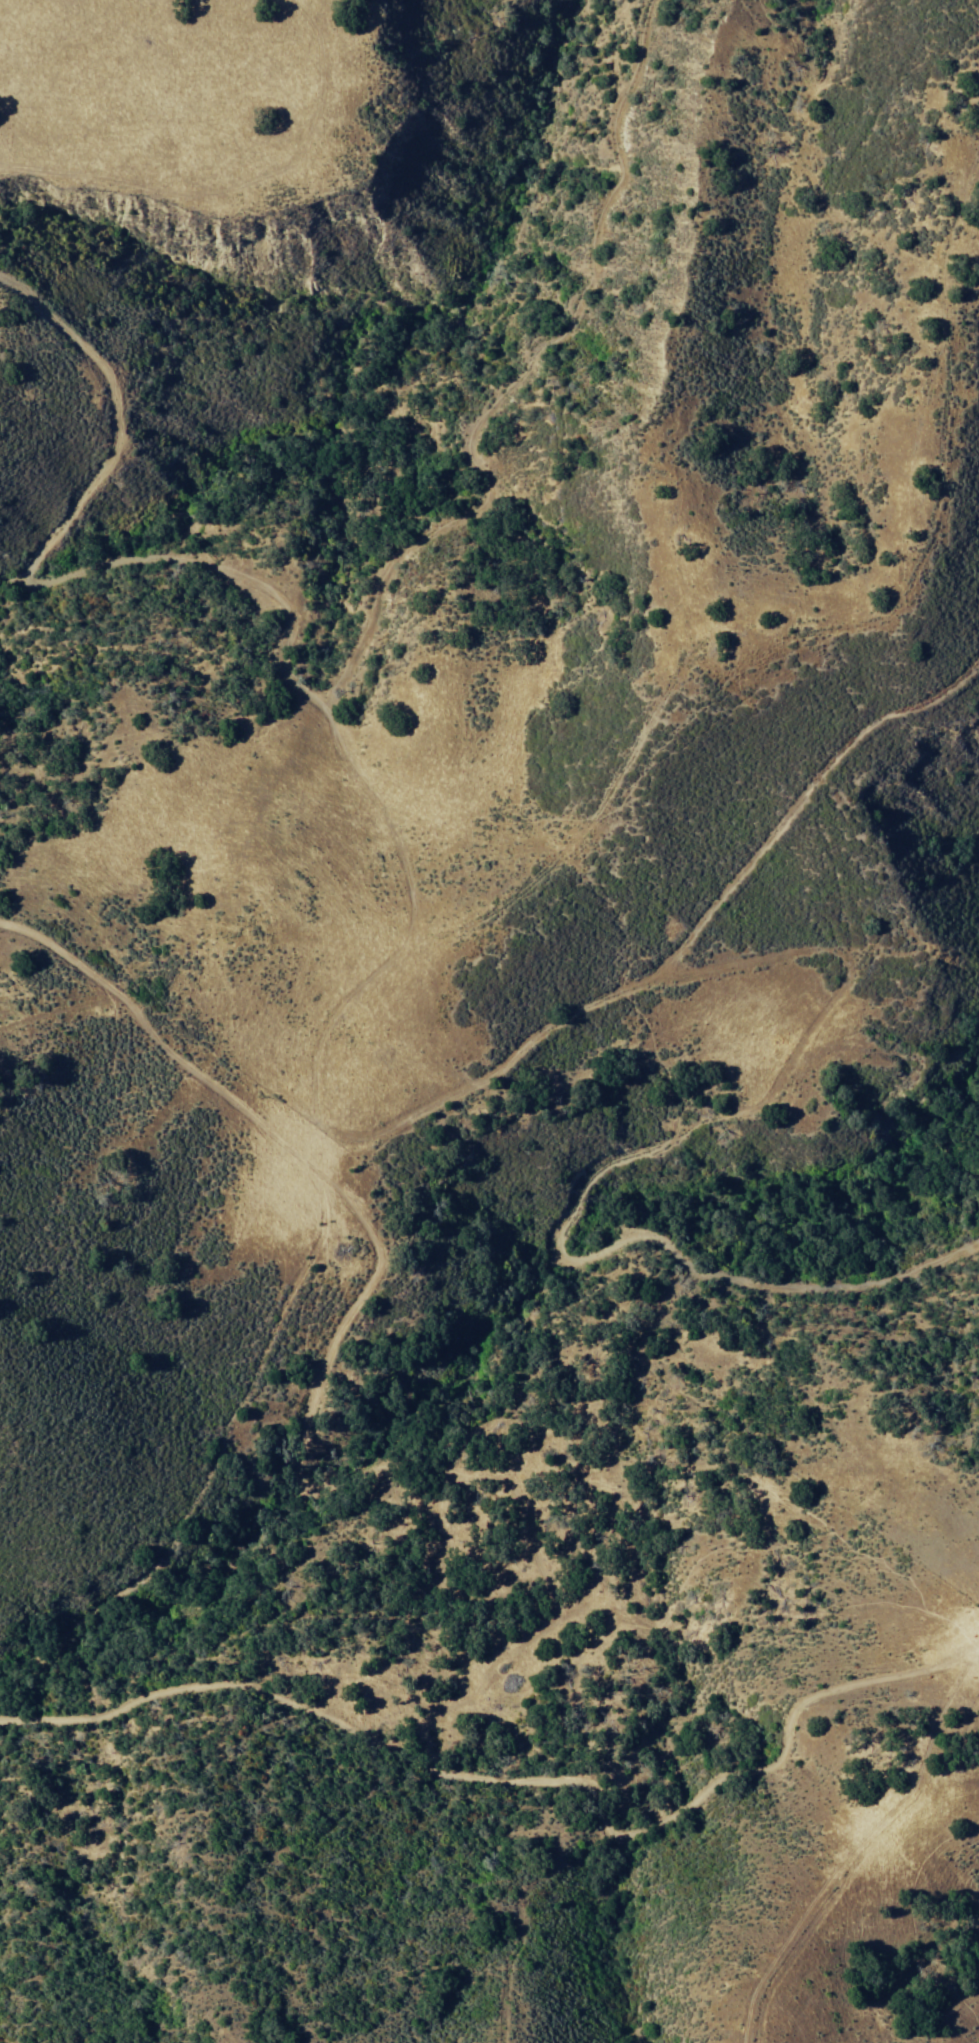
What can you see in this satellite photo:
road: (693, 267)
road: (704, 984)
road: (202, 1313)
road: (499, 1813)

